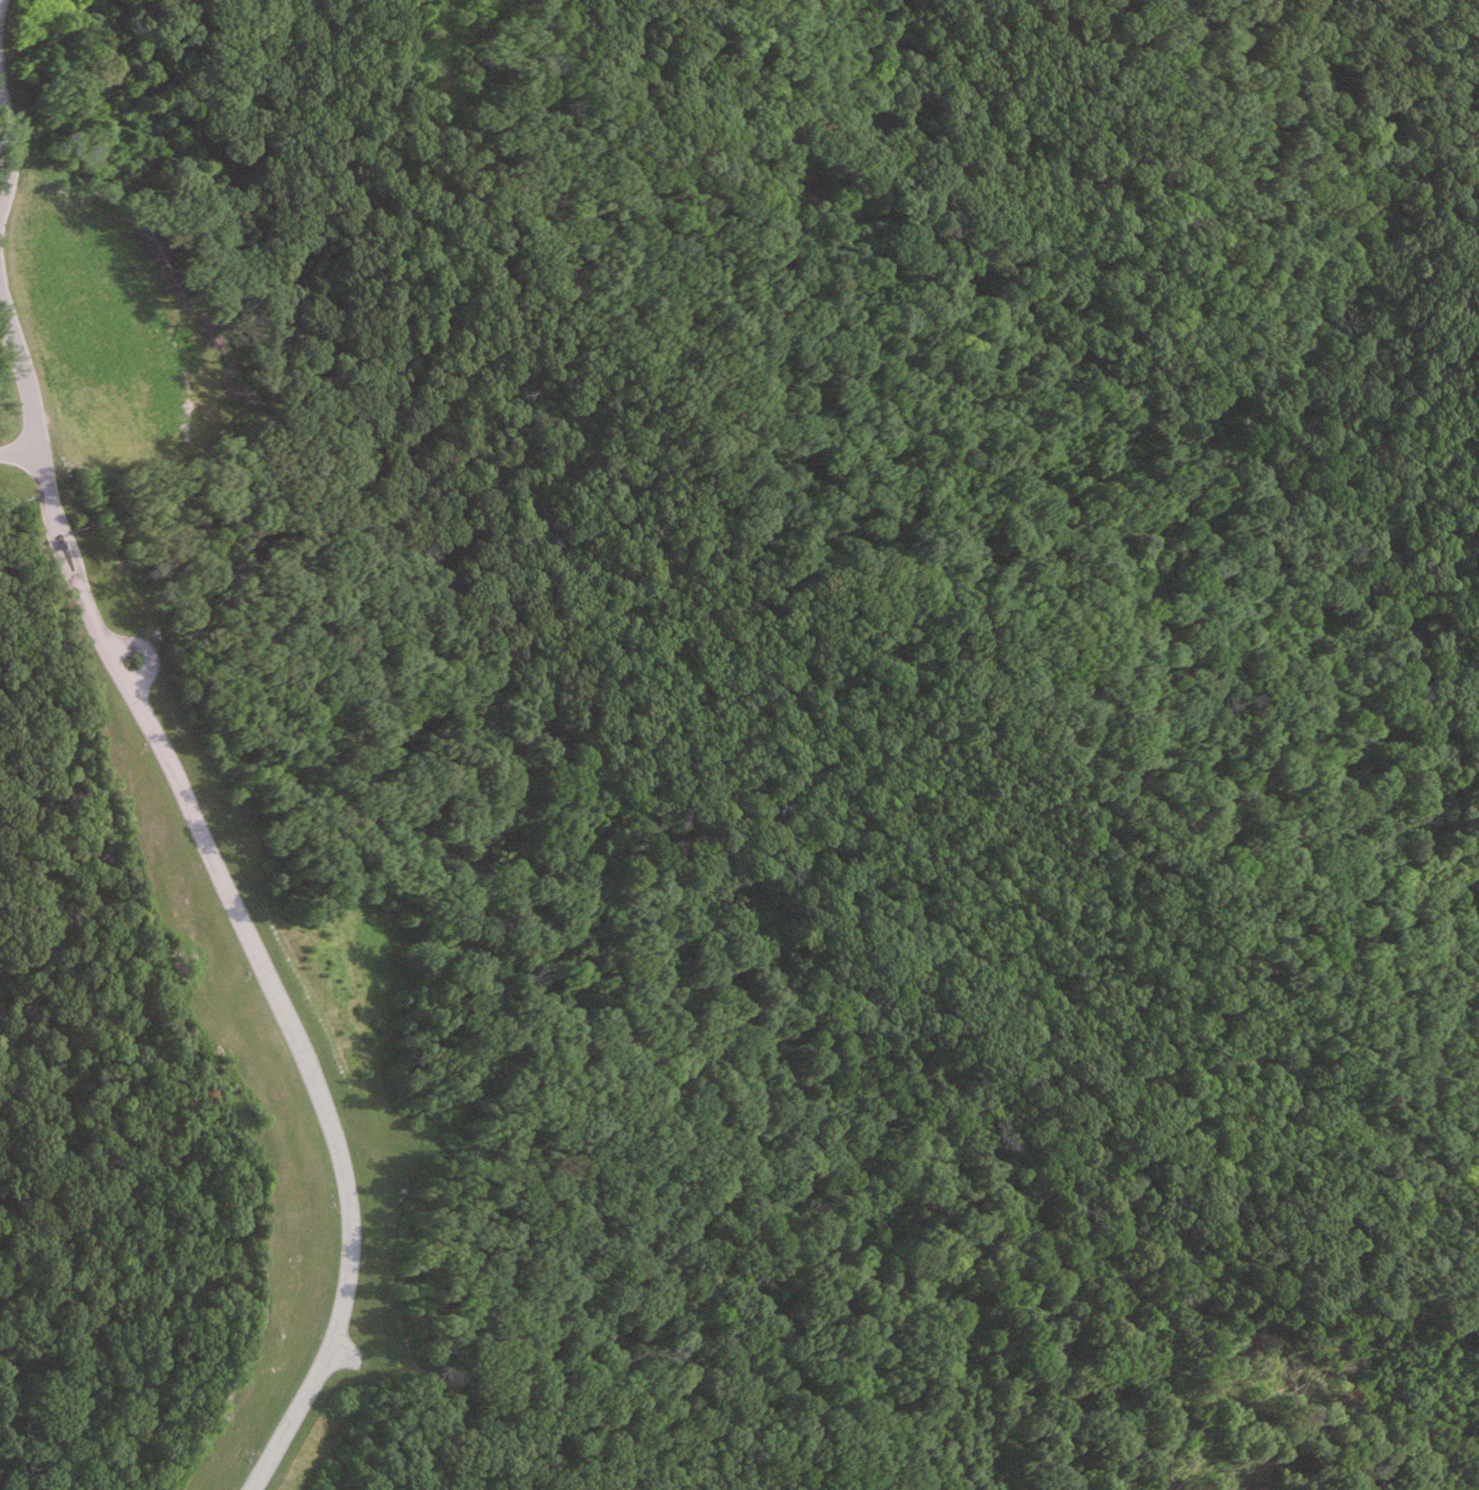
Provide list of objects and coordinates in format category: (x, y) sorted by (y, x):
road: (0, 139)
road: (24, 379)
road: (21, 451)
road: (268, 969)

